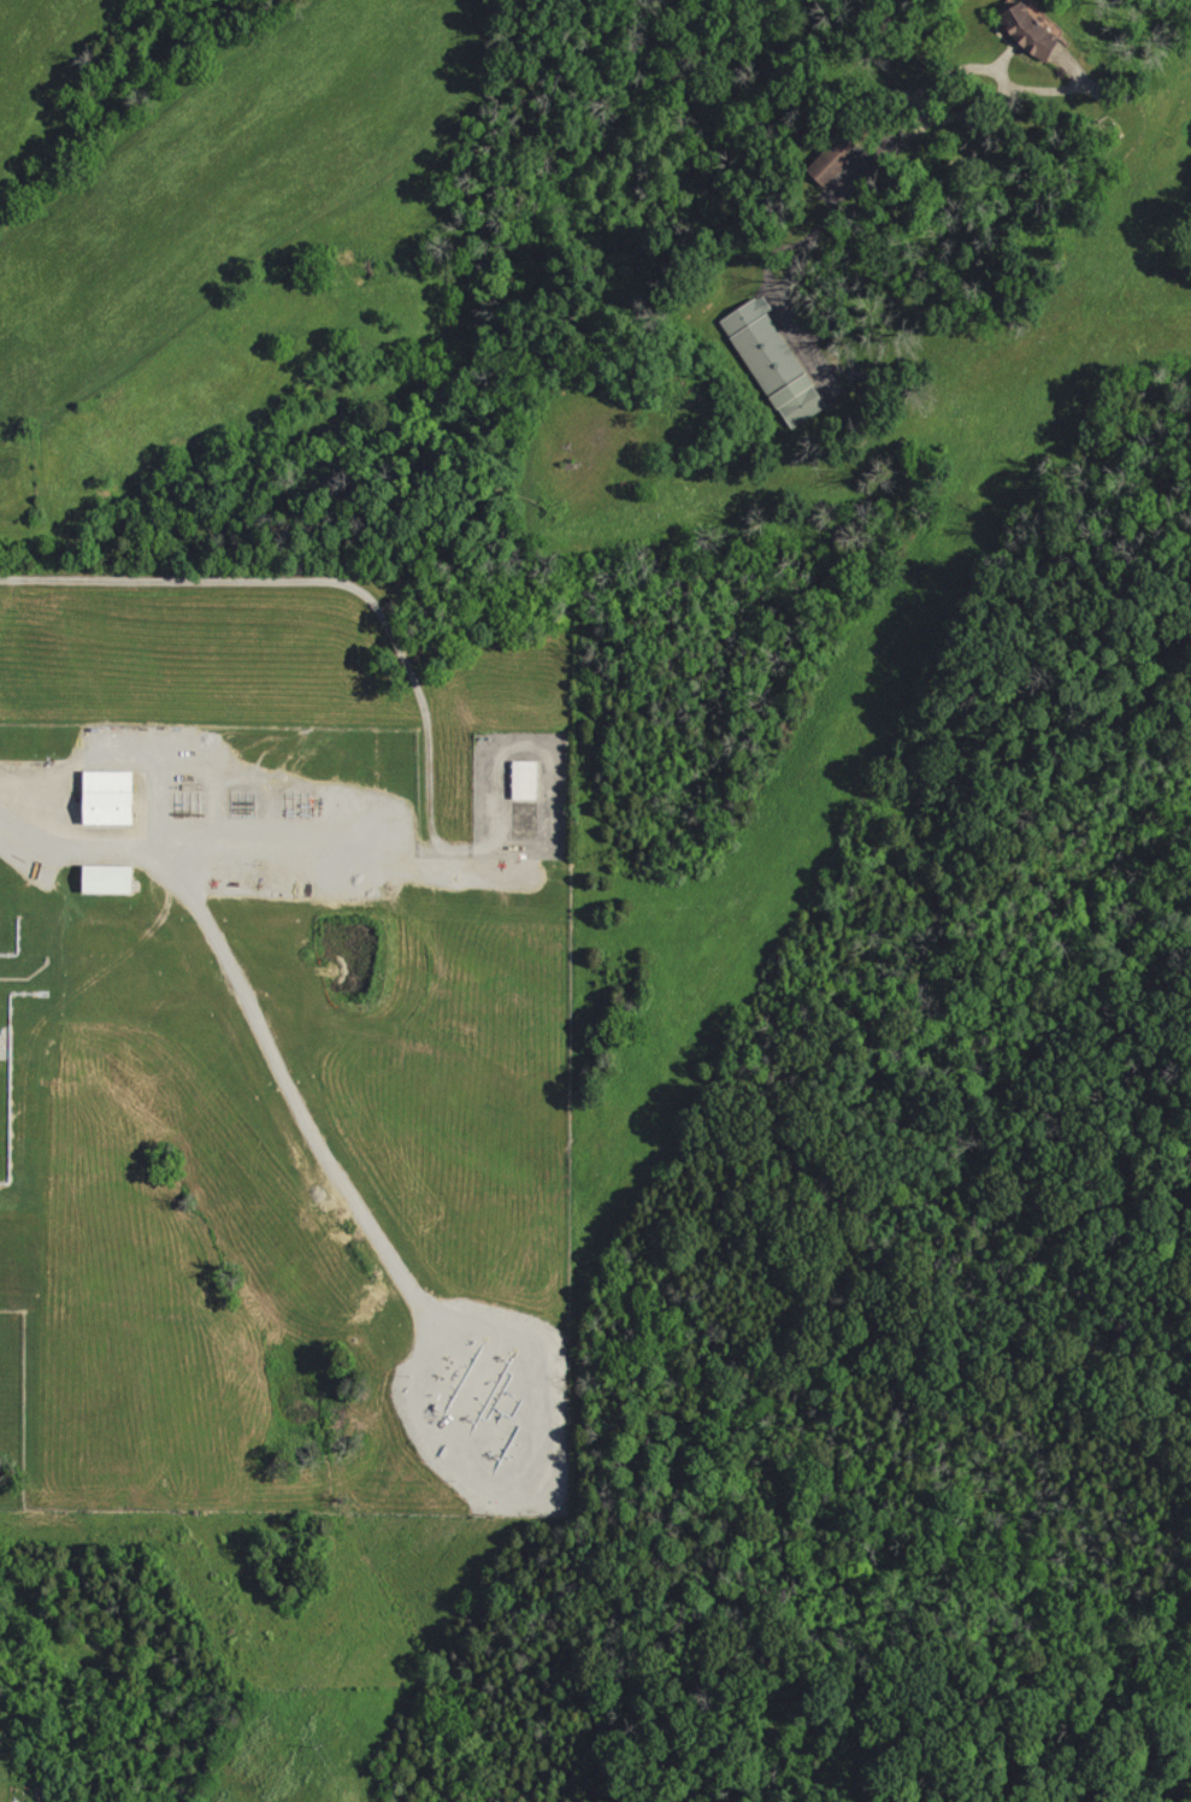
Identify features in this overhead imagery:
building: (1039, 30)
road: (943, 53)
building: (779, 361)
building: (526, 782)
building: (114, 801)
building: (110, 882)
road: (257, 1032)

